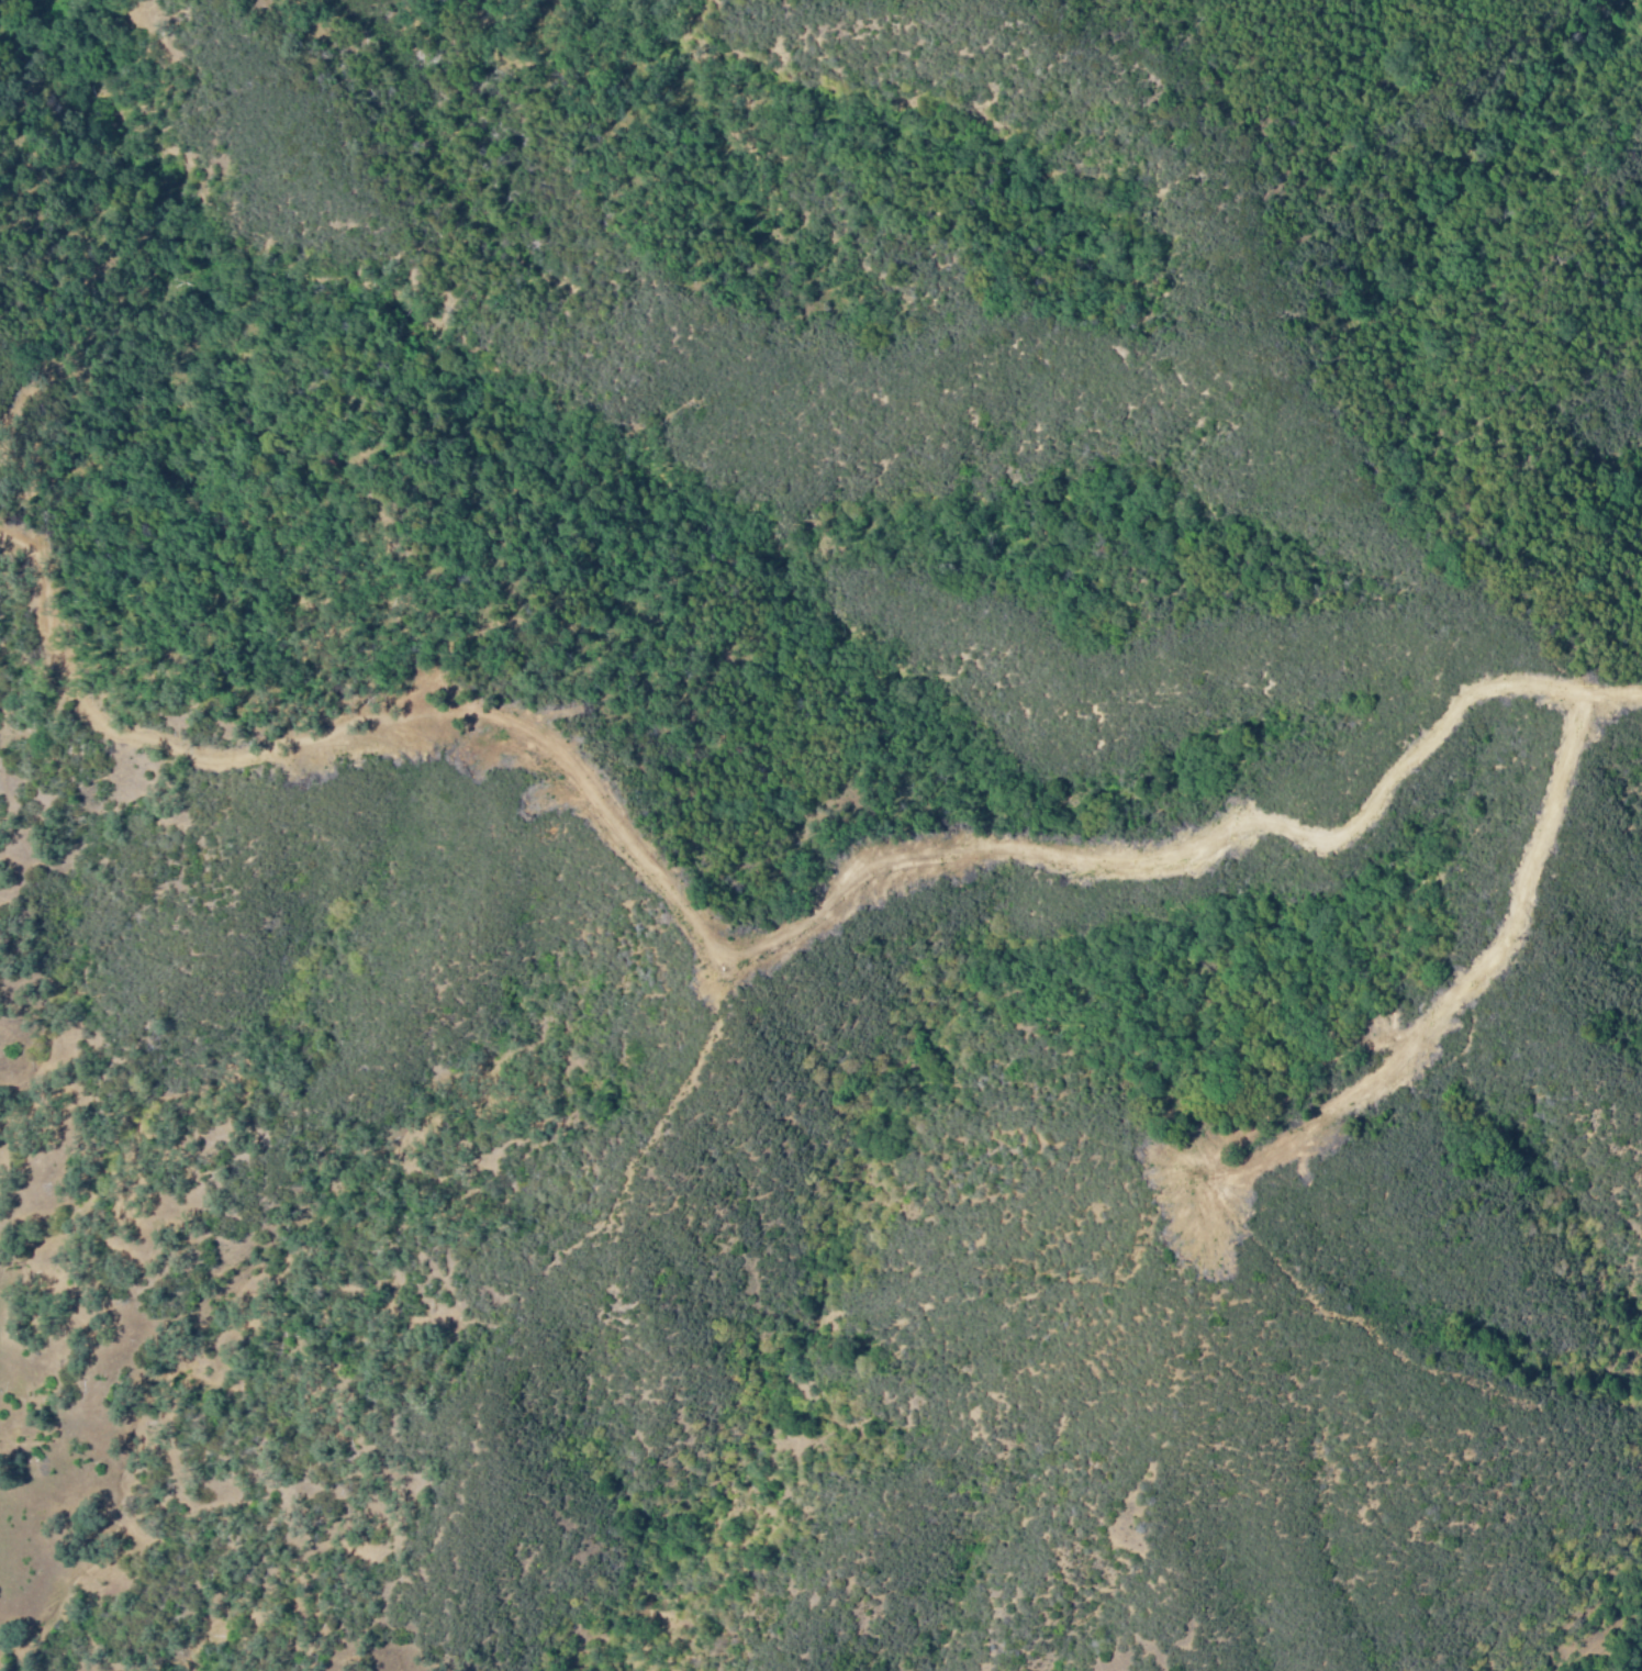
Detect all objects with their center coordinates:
road: (748, 956)
road: (685, 1100)
road: (1308, 1129)

